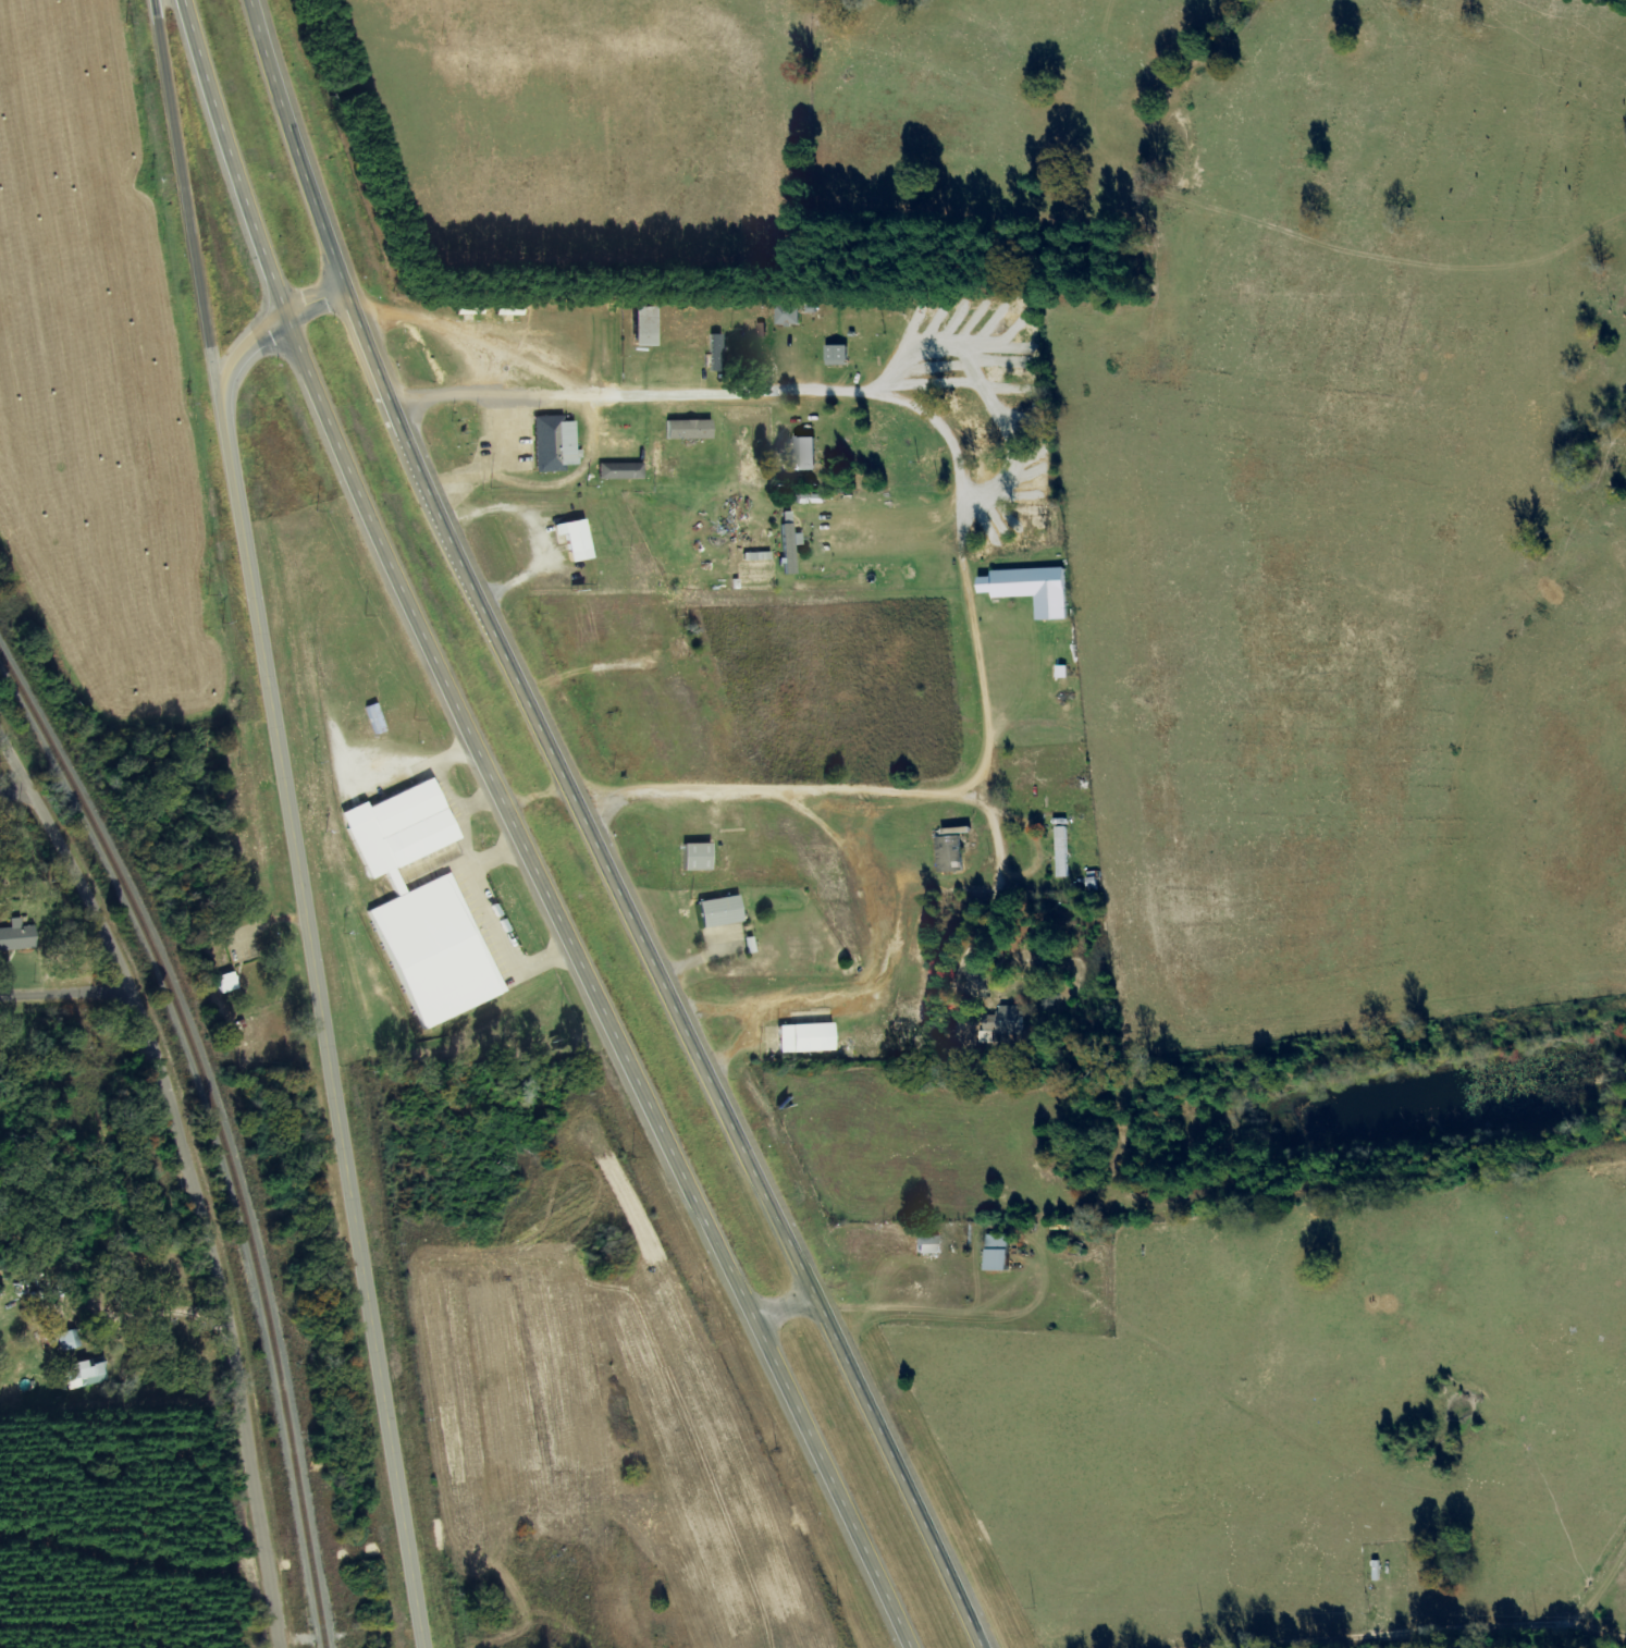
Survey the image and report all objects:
road: (932, 28)
road: (232, 157)
road: (196, 209)
building: (785, 315)
building: (638, 327)
road: (262, 334)
building: (834, 356)
building: (687, 430)
building: (553, 444)
building: (800, 455)
building: (619, 471)
building: (570, 540)
building: (787, 543)
building: (1026, 590)
building: (678, 649)
railway: (64, 772)
road: (589, 836)
building: (1063, 851)
building: (949, 852)
building: (701, 856)
road: (1088, 877)
building: (427, 903)
building: (724, 910)
building: (17, 935)
building: (227, 982)
road: (592, 982)
building: (999, 1022)
road: (327, 1033)
building: (809, 1037)
road: (190, 1178)
road: (1122, 1223)
building: (931, 1244)
building: (1001, 1252)
railway: (255, 1262)
building: (69, 1340)
building: (87, 1374)

